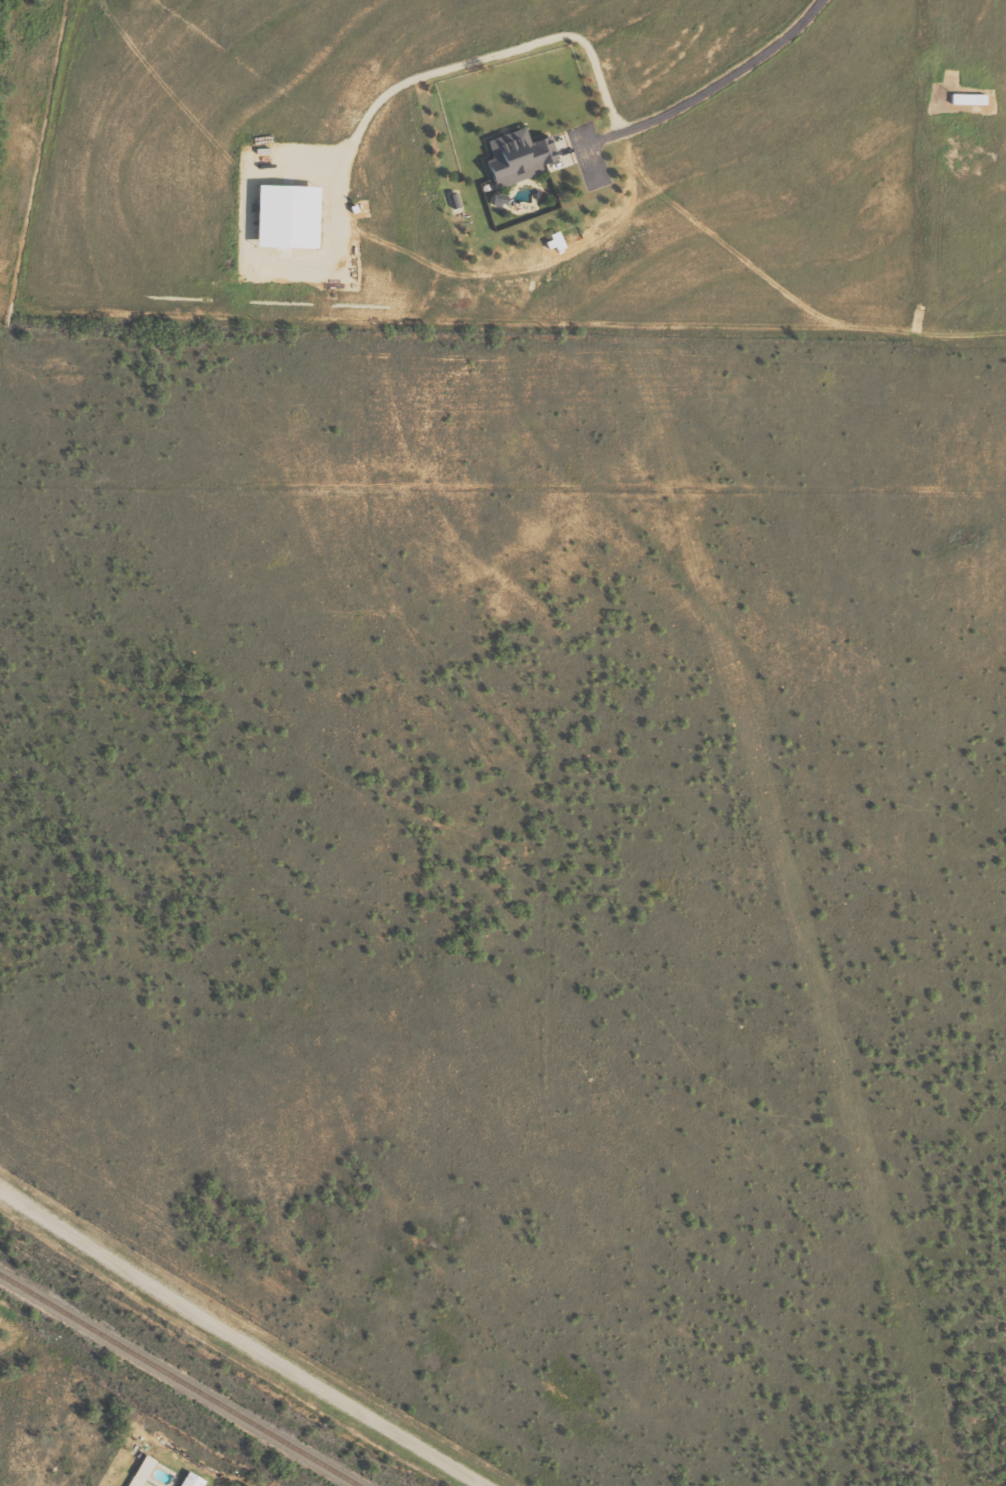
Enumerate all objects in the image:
road: (714, 90)
building: (973, 99)
building: (523, 158)
road: (345, 175)
building: (293, 217)
road: (243, 1337)
railway: (177, 1381)
building: (145, 1471)
building: (195, 1480)

